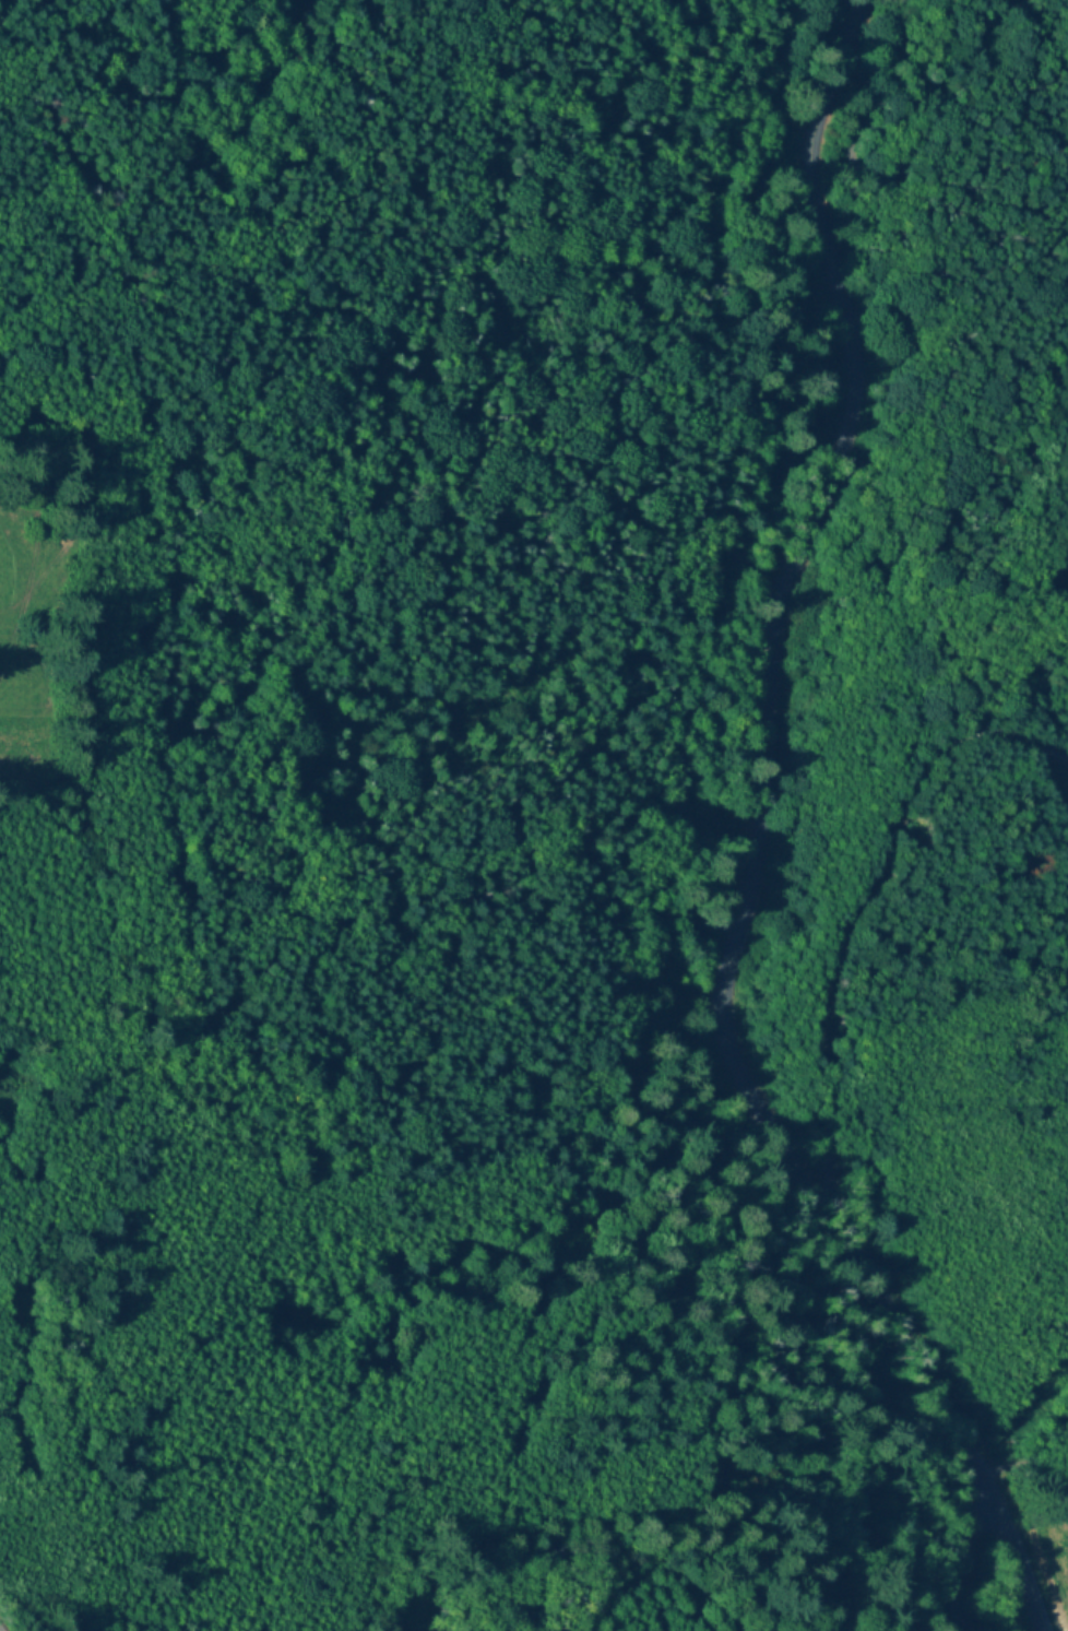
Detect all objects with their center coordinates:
road: (762, 850)
road: (1007, 1570)

